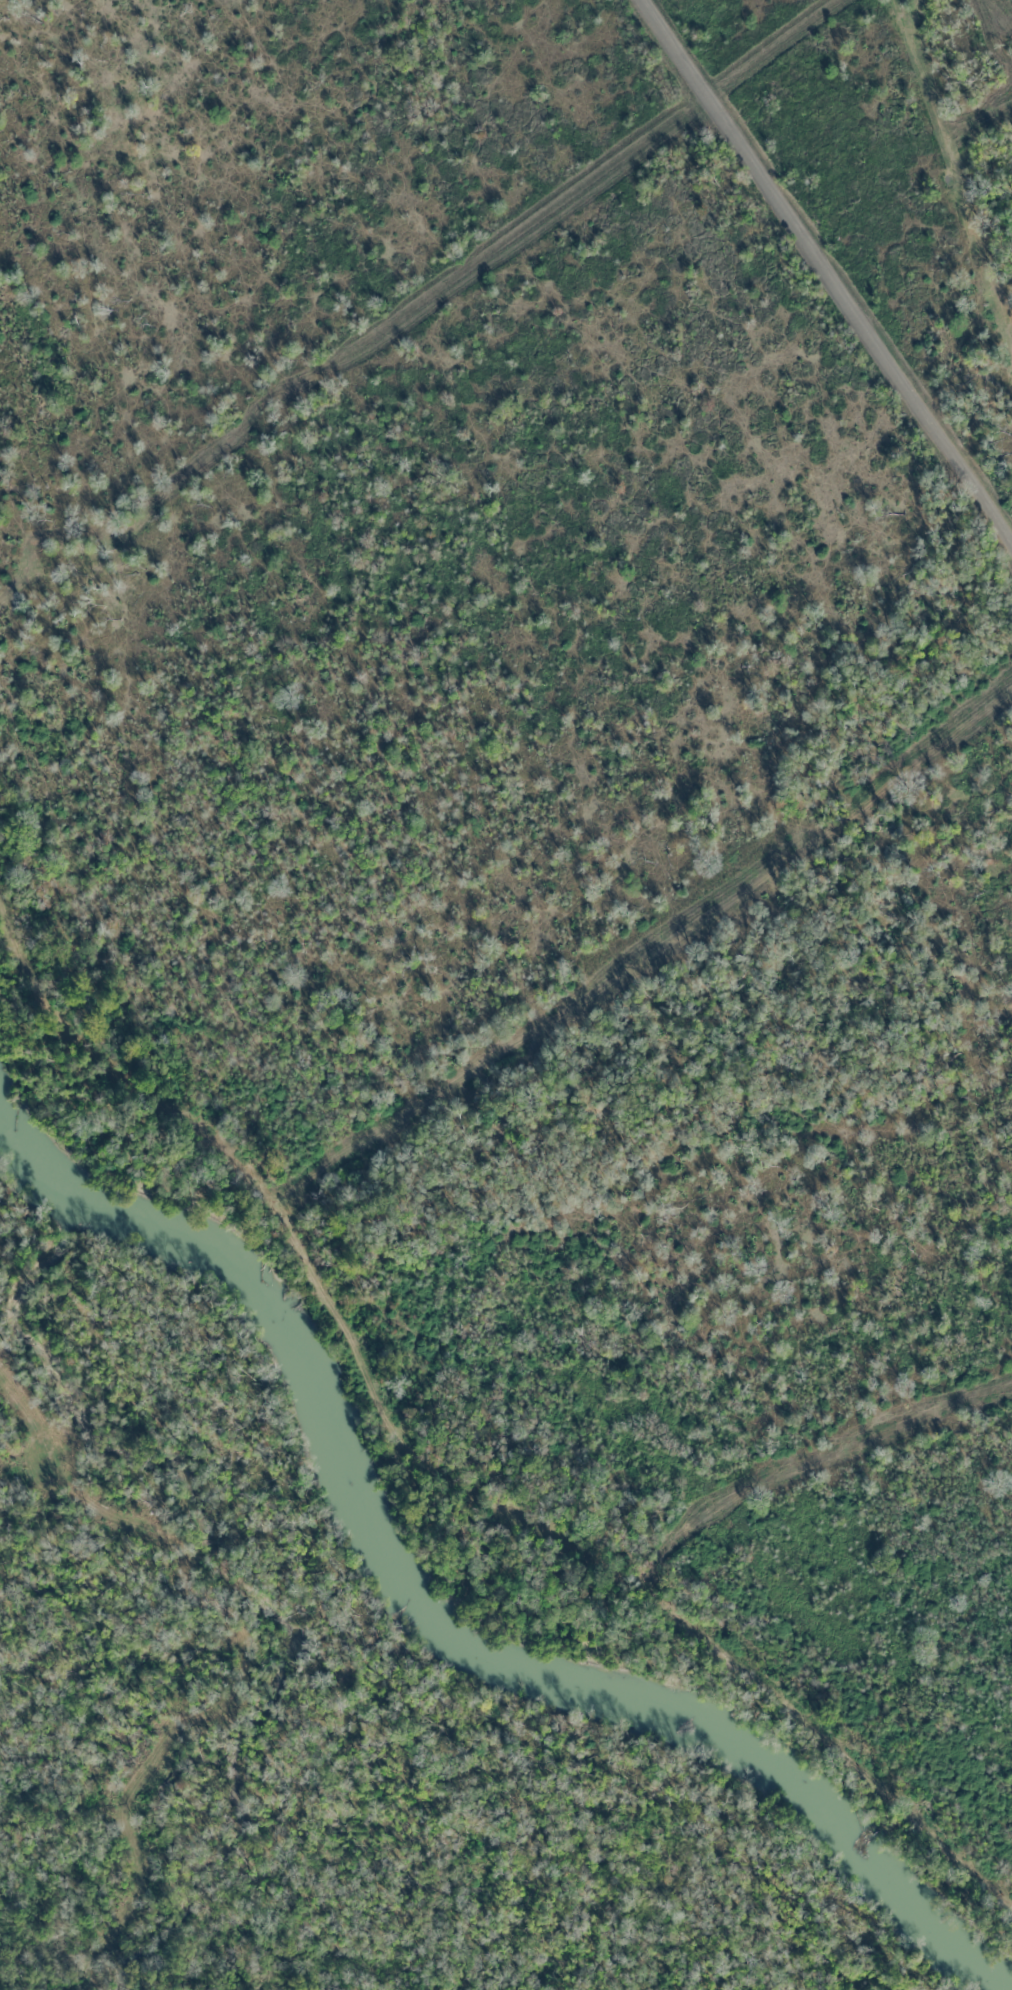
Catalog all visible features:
road: (831, 272)
road: (260, 1193)
river: (239, 1285)
road: (723, 1683)
river: (700, 1732)

